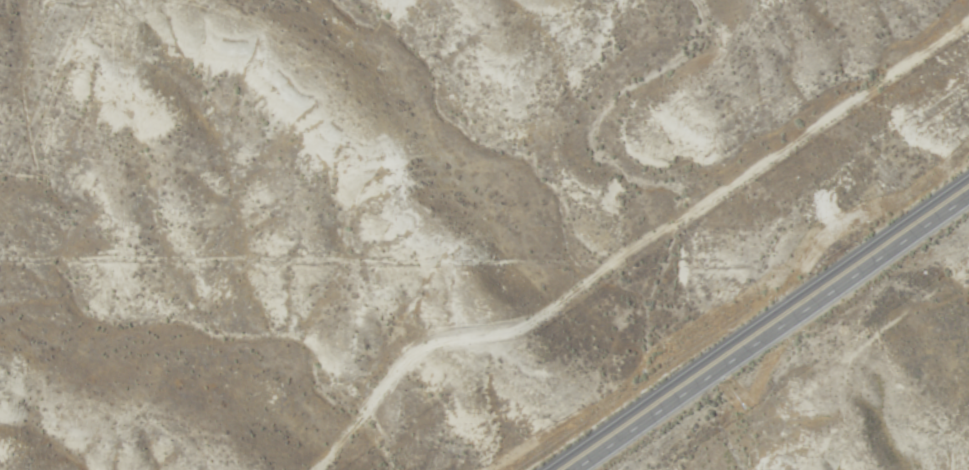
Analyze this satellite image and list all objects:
road: (765, 330)
crop: (898, 425)

